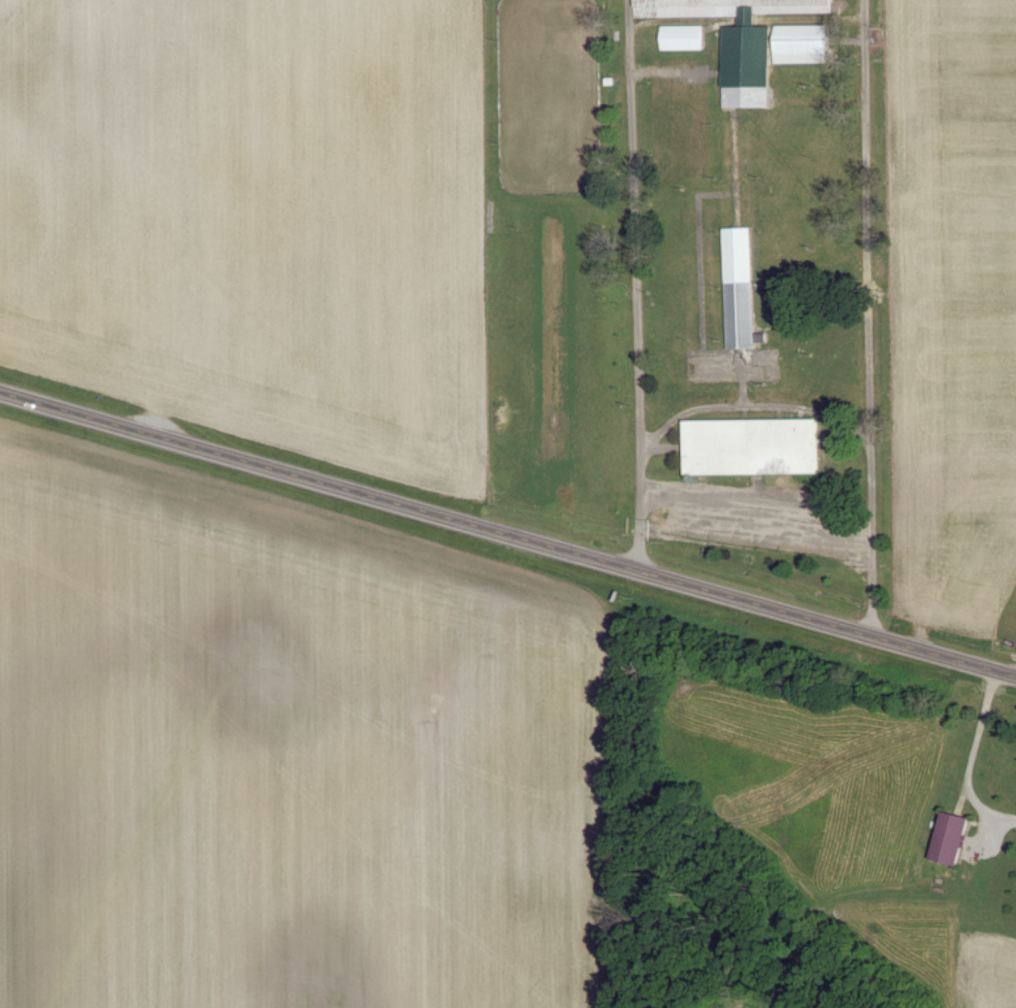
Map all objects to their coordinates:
building: (682, 38)
building: (801, 45)
road: (636, 285)
building: (740, 289)
road: (868, 318)
building: (751, 447)
road: (508, 534)
road: (972, 757)
building: (950, 840)

